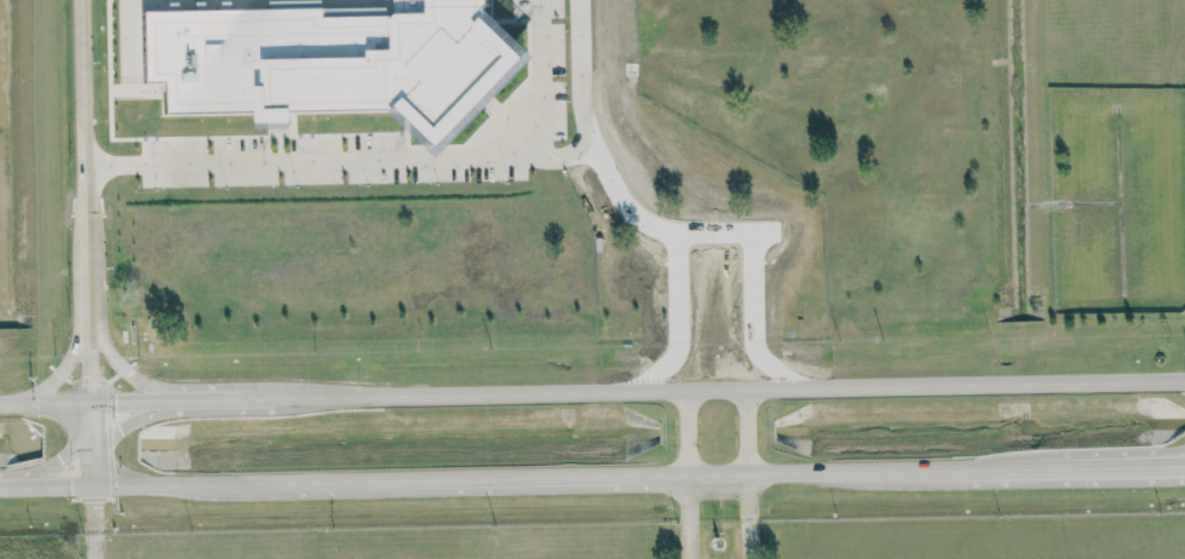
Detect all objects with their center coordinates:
building: (330, 59)
parking lot: (546, 64)
road: (539, 77)
road: (407, 159)
parking lot: (317, 162)
road: (620, 197)
road: (719, 237)
road: (88, 241)
road: (122, 367)
road: (61, 371)
road: (727, 387)
road: (259, 397)
road: (211, 399)
road: (133, 400)
road: (45, 402)
traffic signals: (92, 402)
road: (130, 421)
road: (684, 430)
road: (1122, 456)
road: (53, 463)
road: (1135, 466)
road: (1072, 467)
road: (976, 468)
road: (788, 469)
road: (748, 472)
road: (453, 477)
road: (156, 483)
road: (46, 484)
traffic signals: (93, 484)
road: (93, 508)
road: (686, 515)
road: (93, 546)

